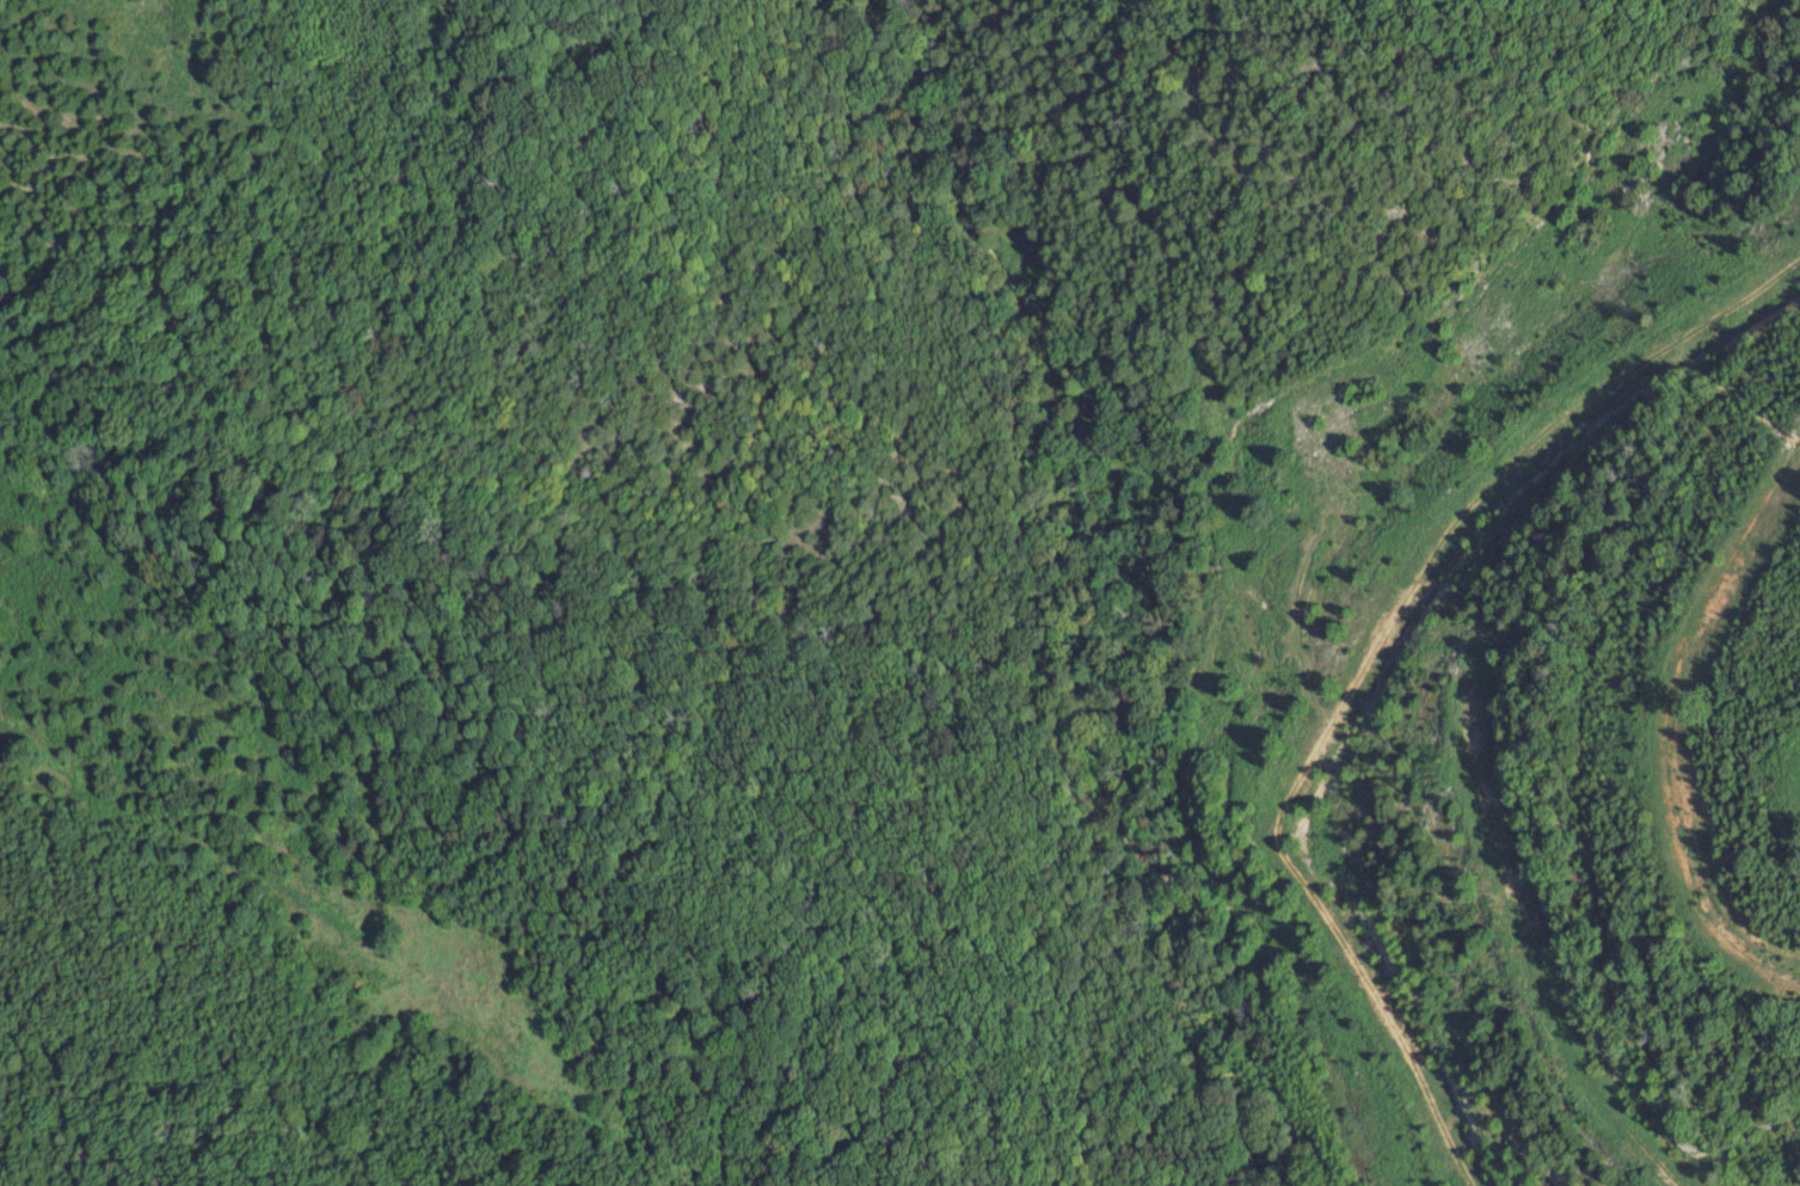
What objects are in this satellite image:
road: (1365, 659)
road: (1798, 756)
road: (1535, 969)

